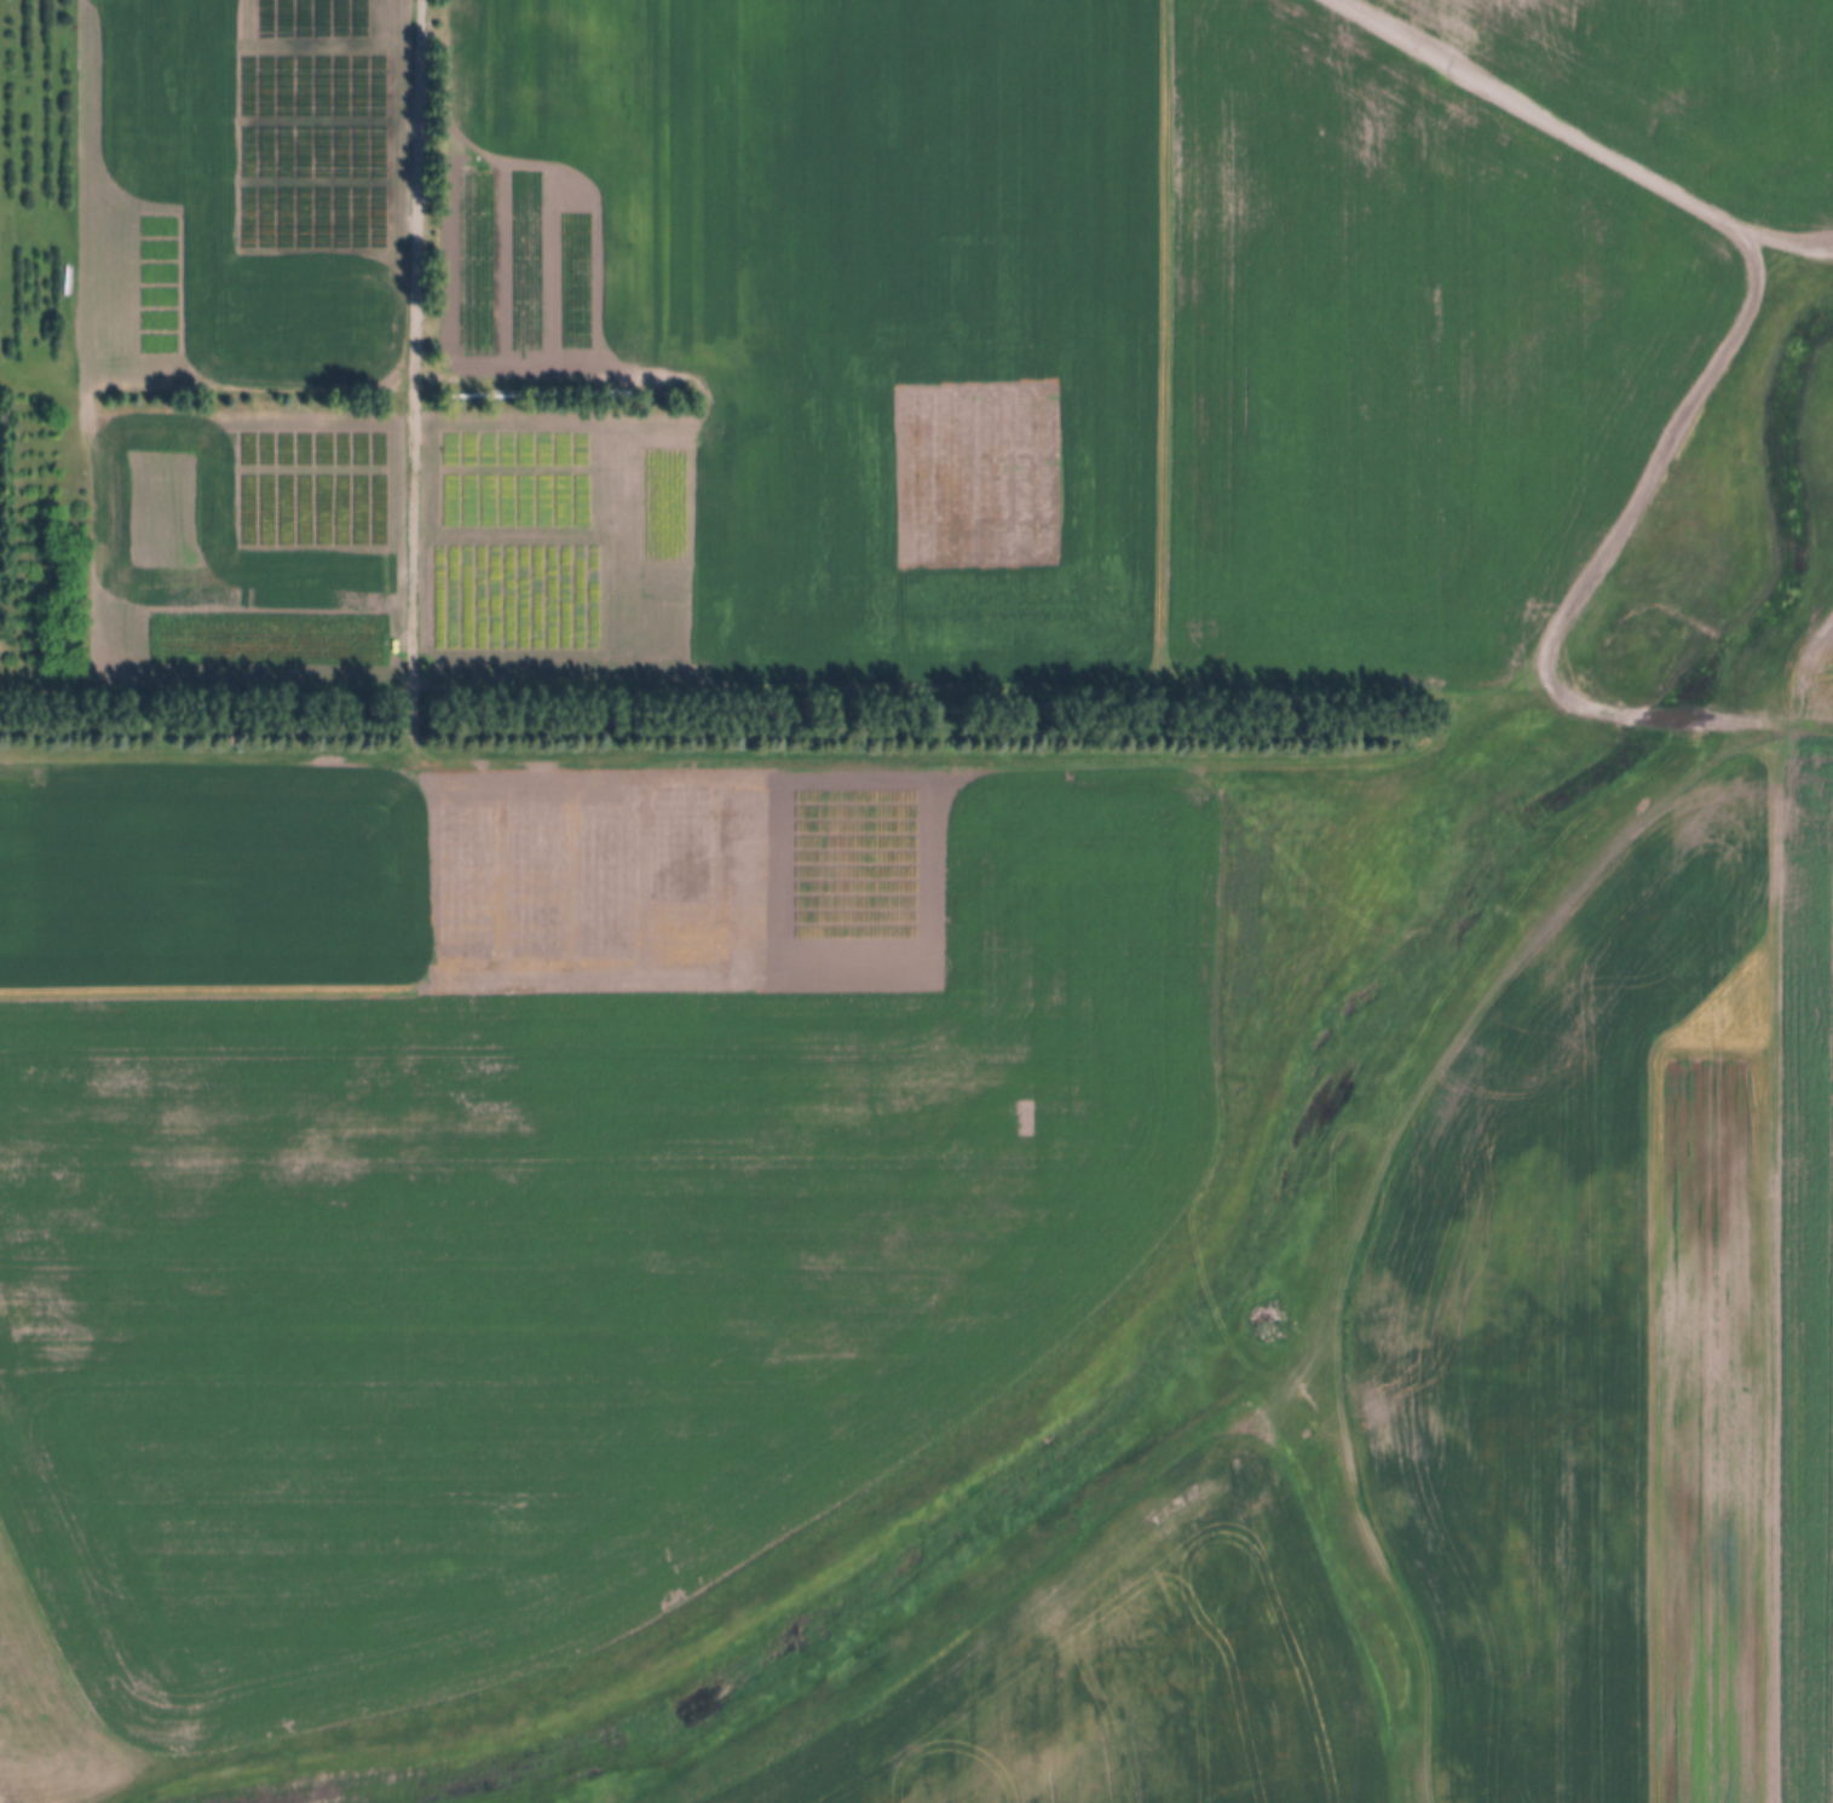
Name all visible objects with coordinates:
road: (1578, 138)
road: (1032, 345)
road: (633, 385)
road: (414, 519)
road: (207, 685)
road: (953, 691)
road: (1030, 759)
road: (790, 1025)

